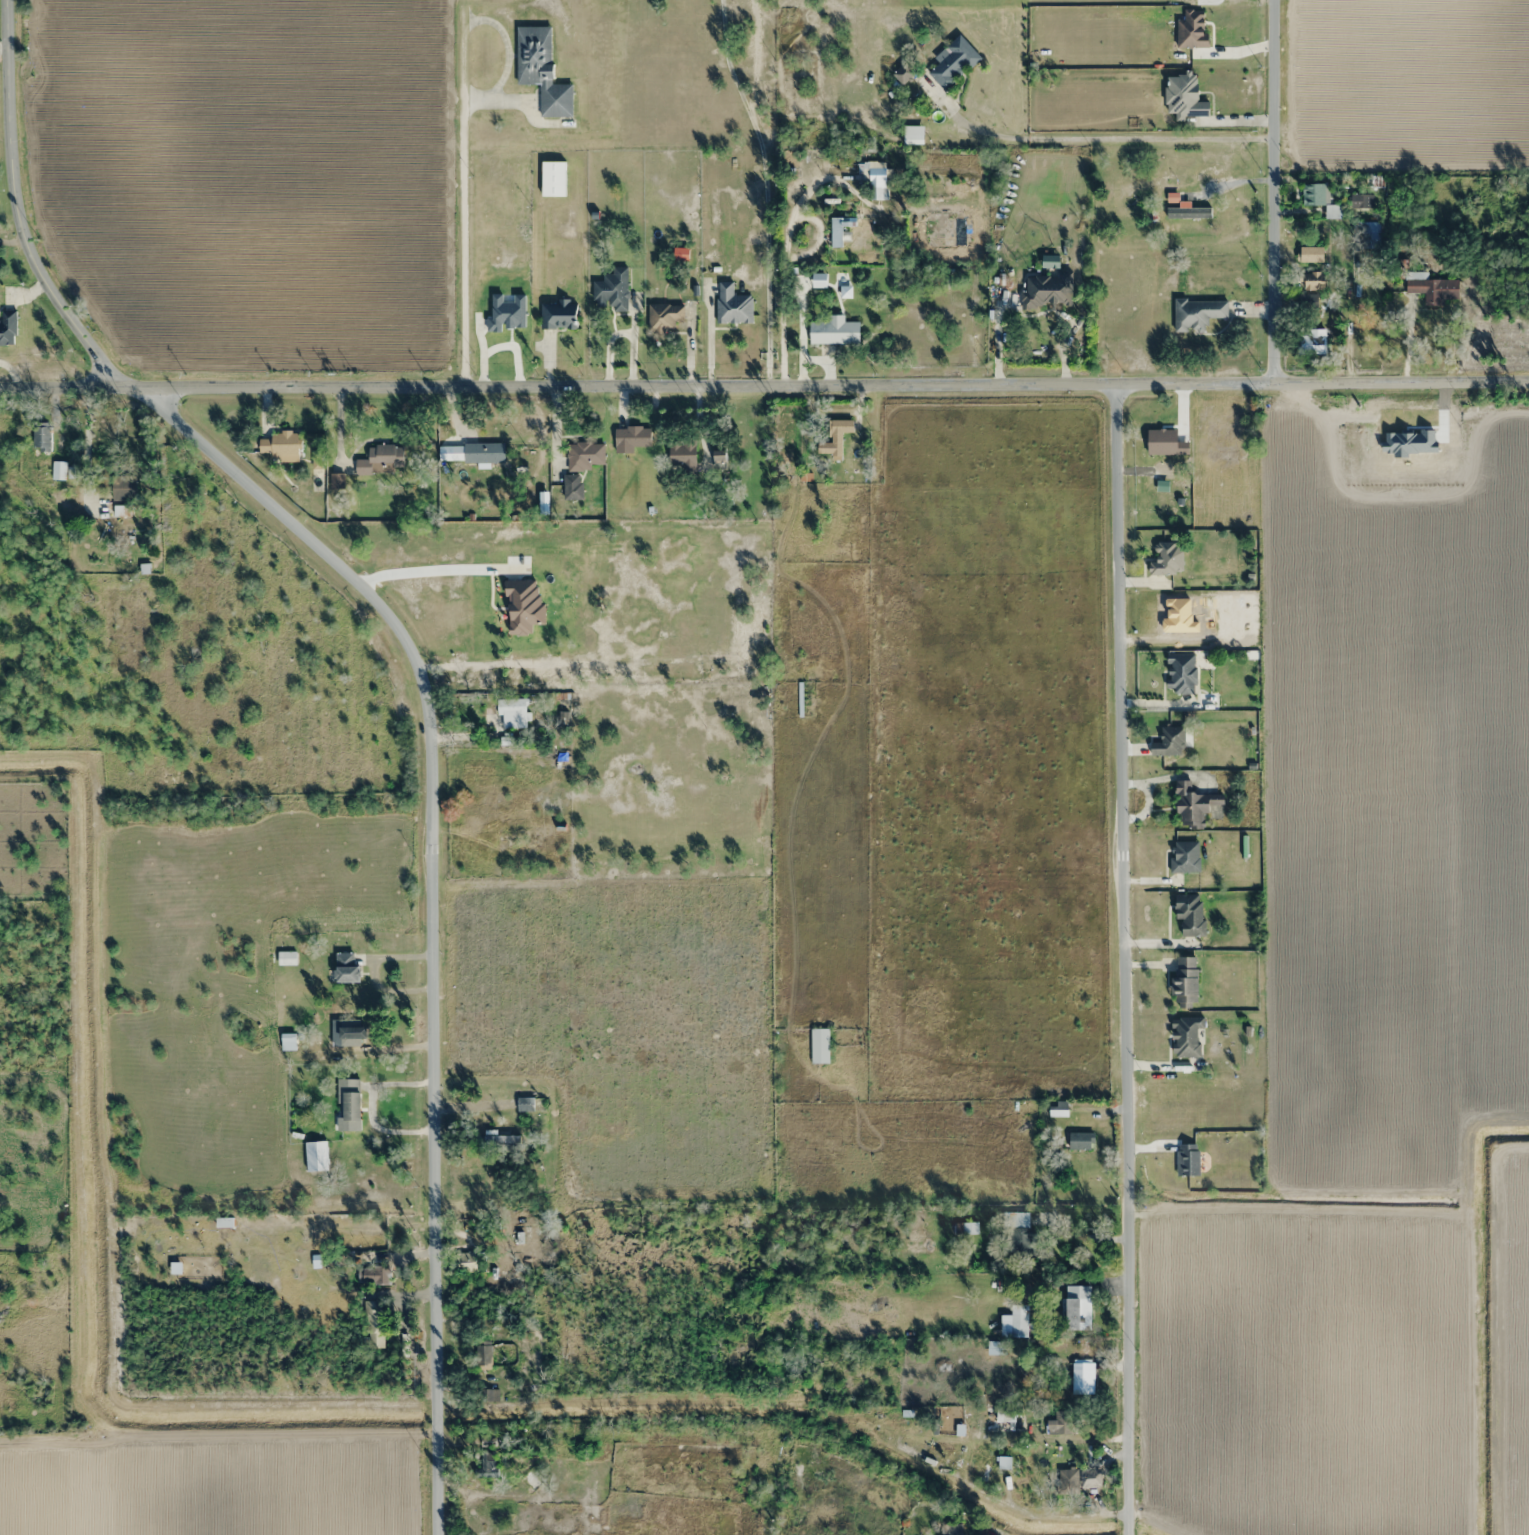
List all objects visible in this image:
building: (953, 62)
building: (541, 70)
building: (904, 73)
crop: (1405, 83)
building: (553, 178)
building: (875, 180)
road: (1271, 193)
building: (1319, 198)
building: (1361, 201)
building: (1189, 213)
road: (15, 214)
building: (836, 232)
building: (1366, 234)
road: (784, 248)
building: (1311, 254)
building: (1309, 280)
building: (1433, 288)
building: (612, 290)
building: (1047, 290)
building: (1307, 302)
building: (732, 305)
building: (1197, 313)
building: (559, 315)
building: (664, 316)
building: (8, 327)
building: (833, 330)
building: (1311, 341)
road: (764, 387)
building: (834, 433)
building: (783, 434)
building: (631, 438)
building: (41, 439)
building: (279, 444)
building: (484, 453)
building: (586, 455)
building: (682, 455)
building: (381, 460)
building: (59, 470)
building: (572, 487)
building: (124, 488)
building: (1168, 558)
building: (1181, 673)
building: (513, 713)
building: (1169, 742)
building: (1194, 806)
building: (1185, 856)
road: (429, 900)
building: (1191, 914)
building: (339, 932)
building: (286, 958)
road: (1126, 961)
building: (346, 967)
building: (1185, 980)
building: (353, 1035)
building: (1187, 1037)
building: (820, 1046)
building: (350, 1099)
building: (525, 1104)
building: (1058, 1107)
building: (497, 1140)
building: (1081, 1140)
building: (316, 1156)
building: (1187, 1159)
building: (970, 1227)
building: (1019, 1235)
building: (315, 1253)
building: (375, 1274)
building: (330, 1306)
building: (1077, 1307)
building: (301, 1312)
building: (373, 1324)
building: (1019, 1326)
building: (1081, 1378)
building: (488, 1395)
building: (1008, 1414)
building: (1062, 1422)
building: (1003, 1462)
building: (486, 1465)
building: (533, 1477)
building: (1067, 1481)
building: (950, 1534)

